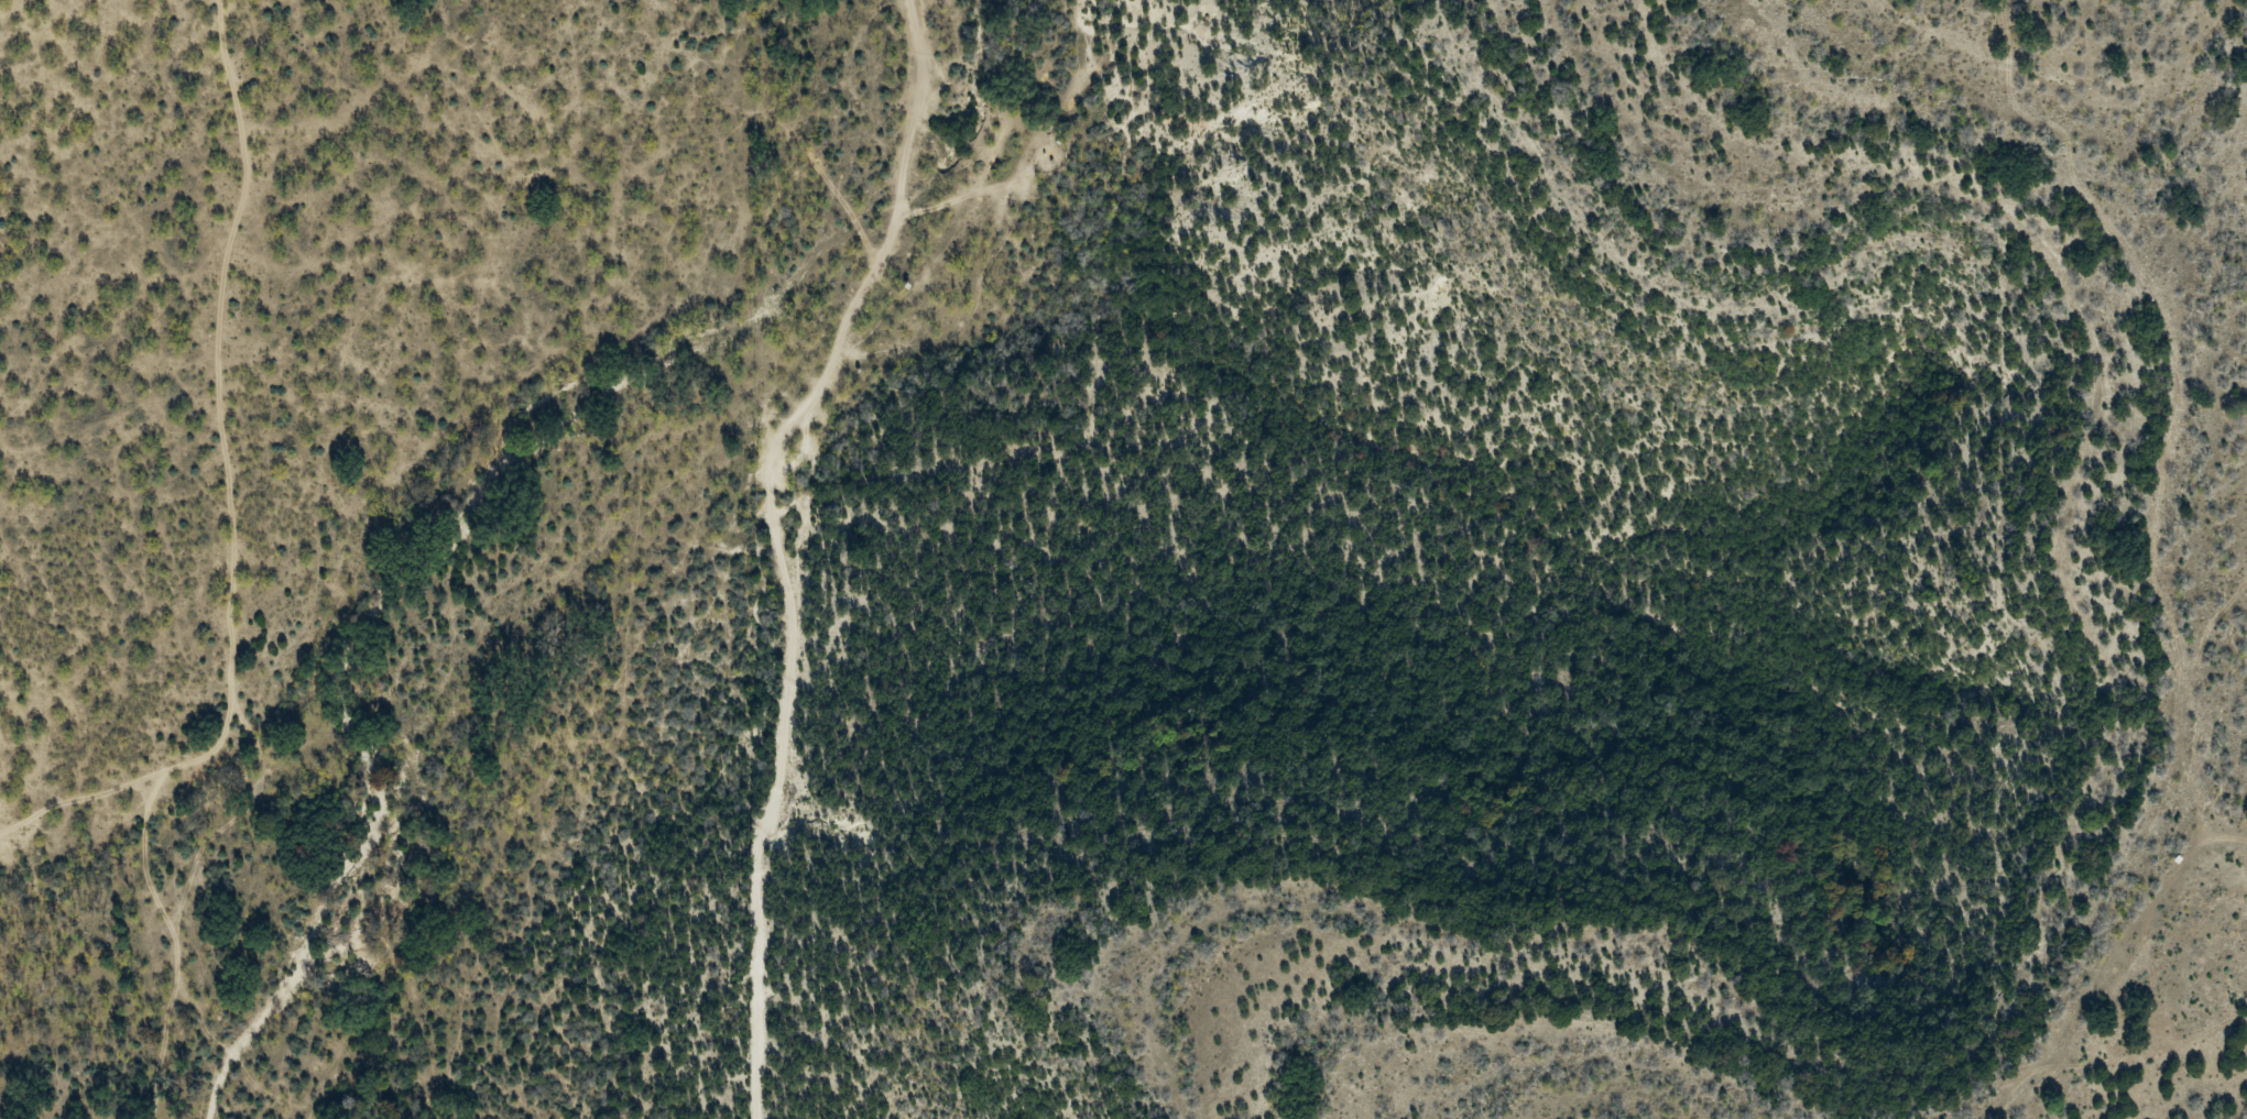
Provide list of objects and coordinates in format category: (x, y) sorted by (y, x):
road: (771, 546)

